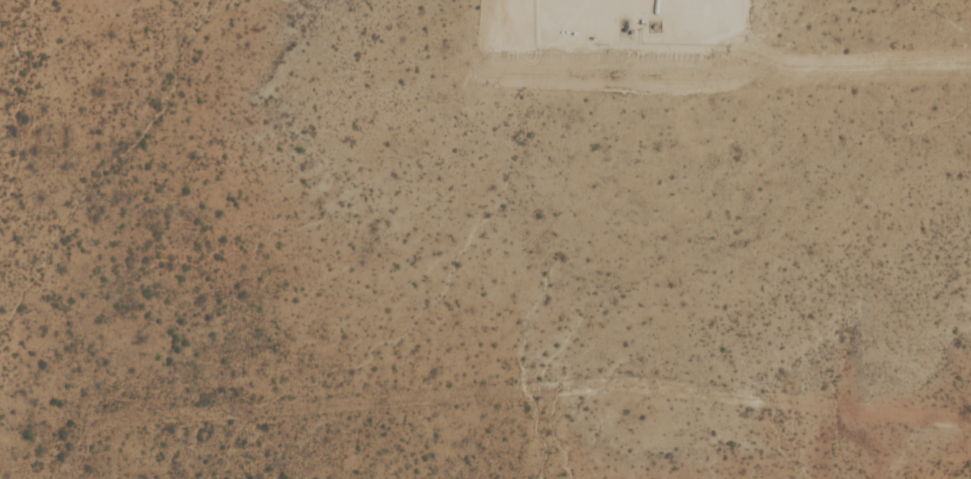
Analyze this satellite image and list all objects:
road: (575, 17)

